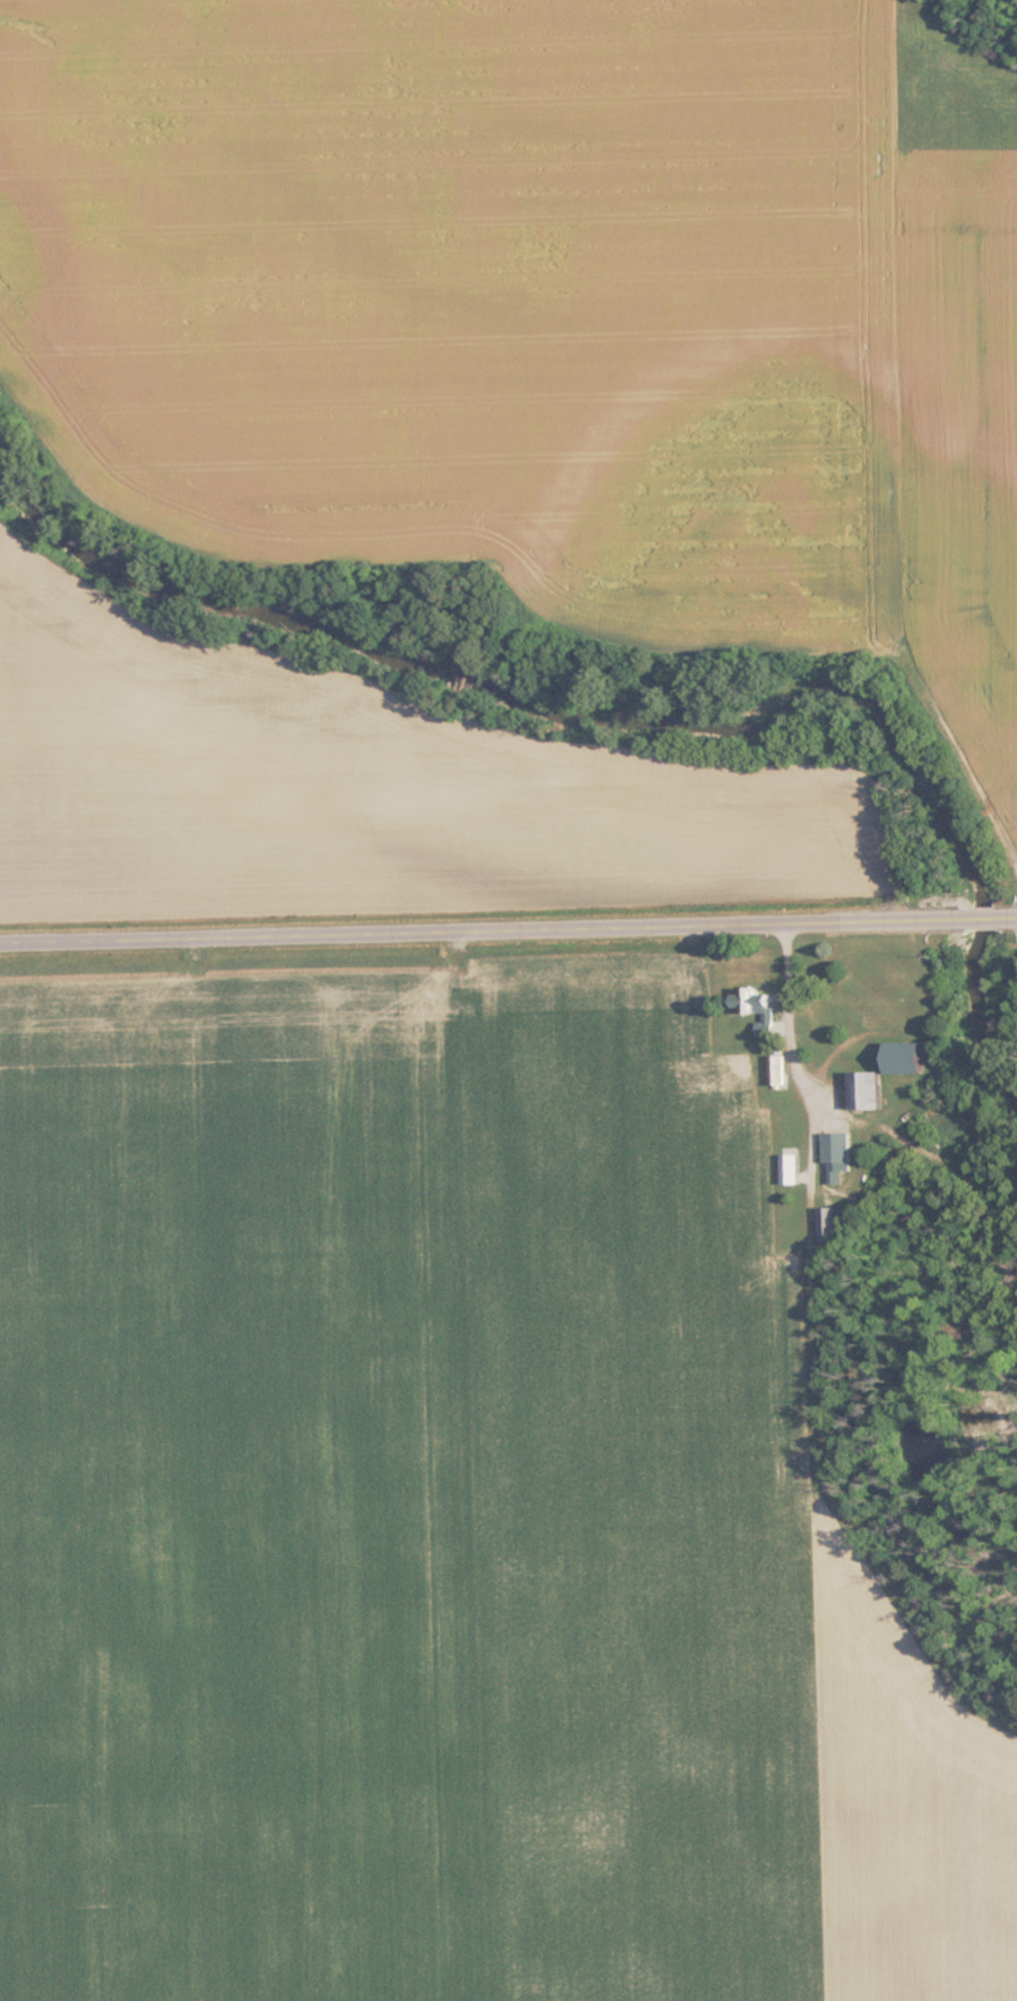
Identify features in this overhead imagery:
road: (508, 930)
building: (755, 1008)
building: (904, 1058)
building: (776, 1071)
building: (865, 1091)
building: (837, 1156)
building: (790, 1169)
building: (828, 1224)

